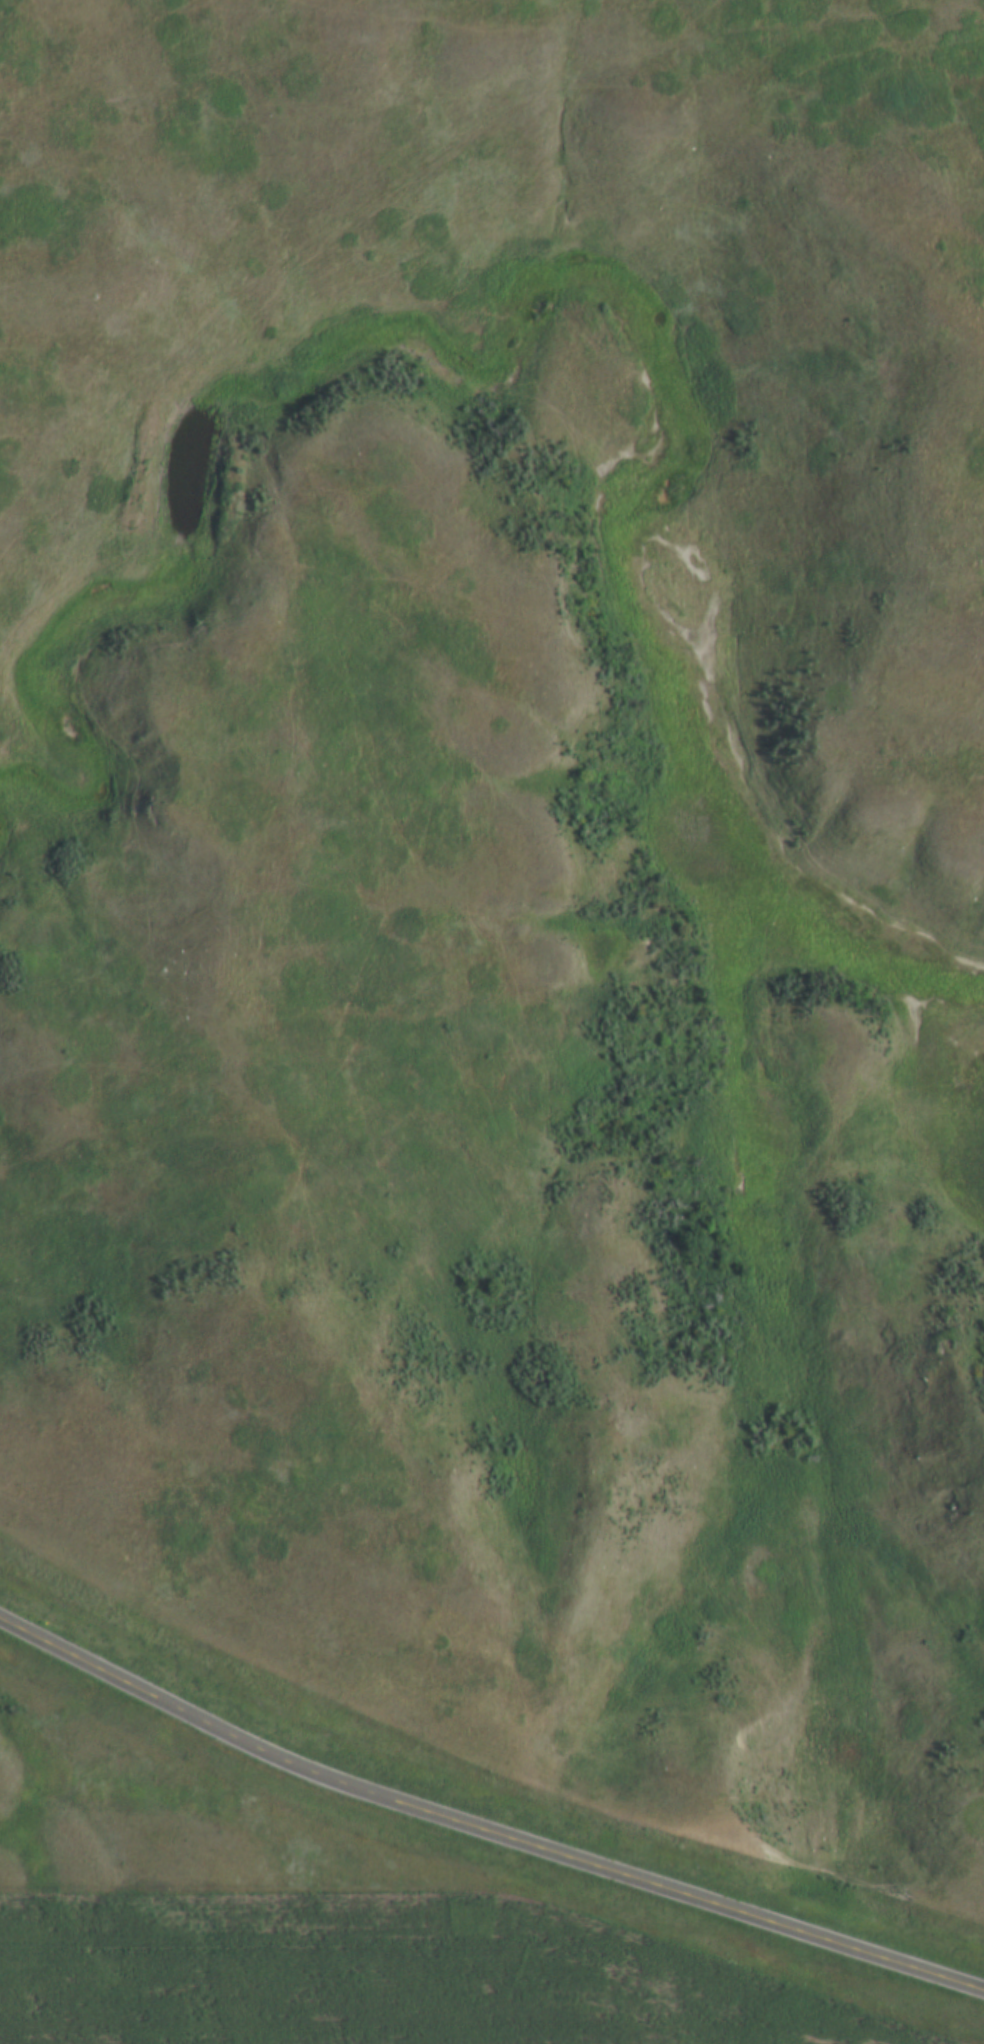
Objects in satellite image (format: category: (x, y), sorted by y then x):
road: (483, 1822)

